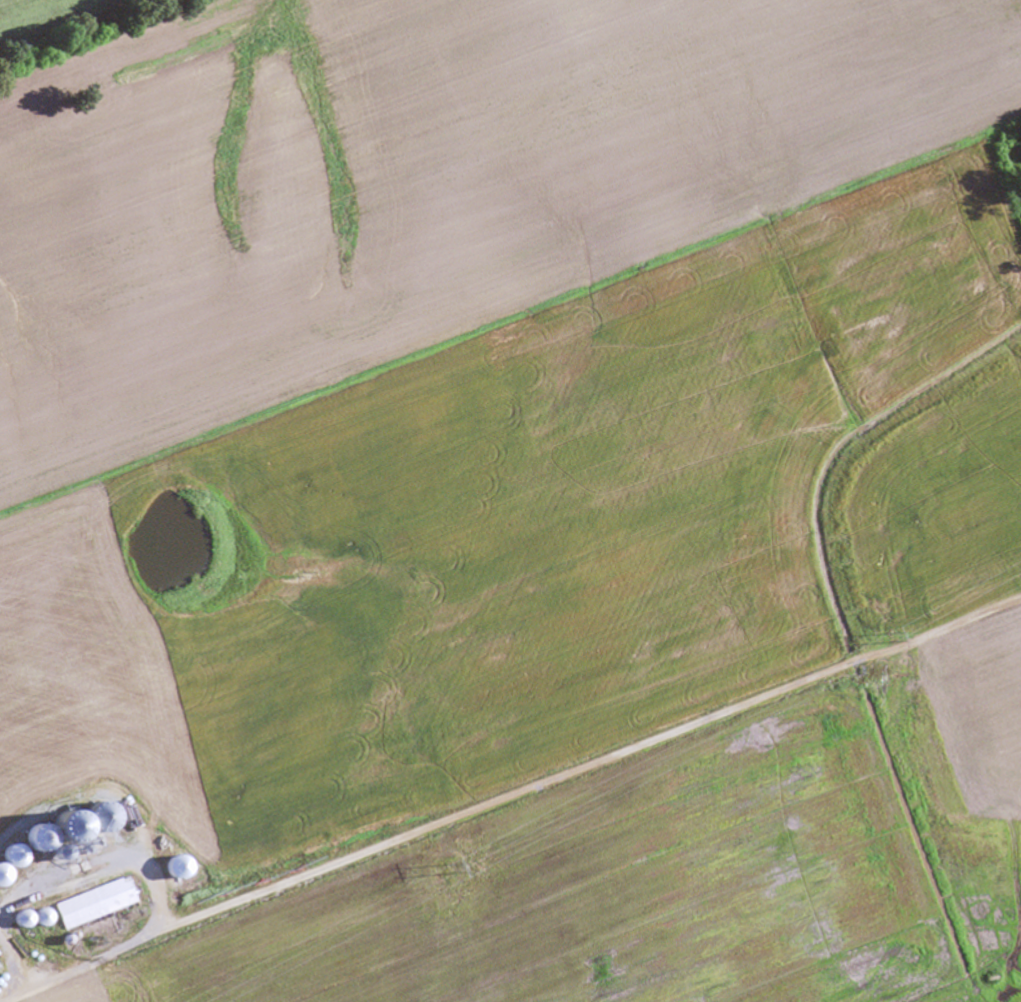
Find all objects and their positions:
road: (92, 35)
building: (99, 821)
building: (64, 832)
building: (36, 835)
building: (0, 874)
building: (92, 903)

